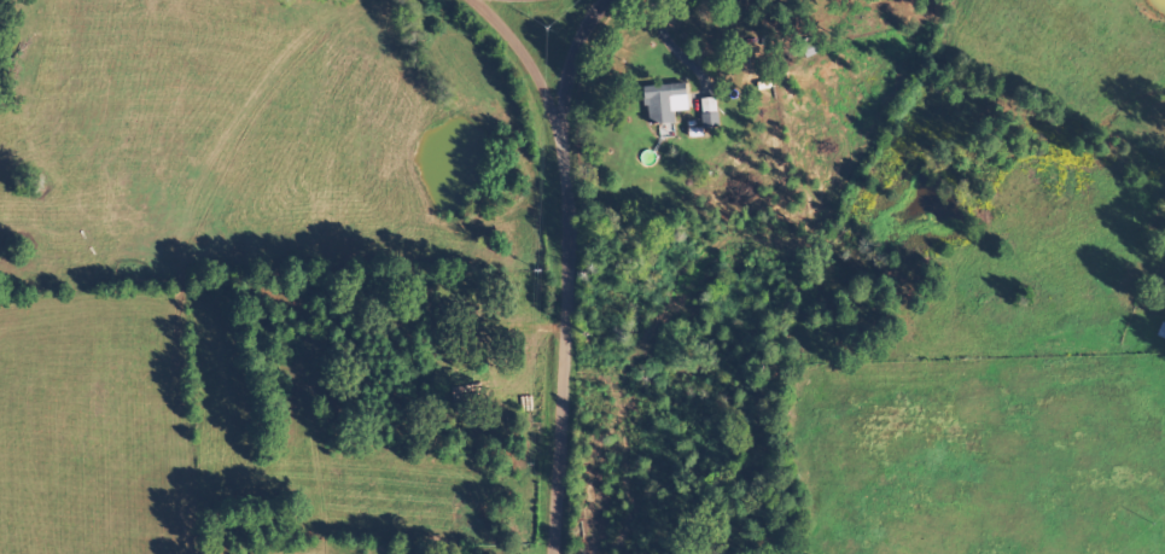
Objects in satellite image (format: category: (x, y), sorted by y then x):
road: (499, 10)
road: (427, 16)
building: (669, 101)
road: (560, 284)

